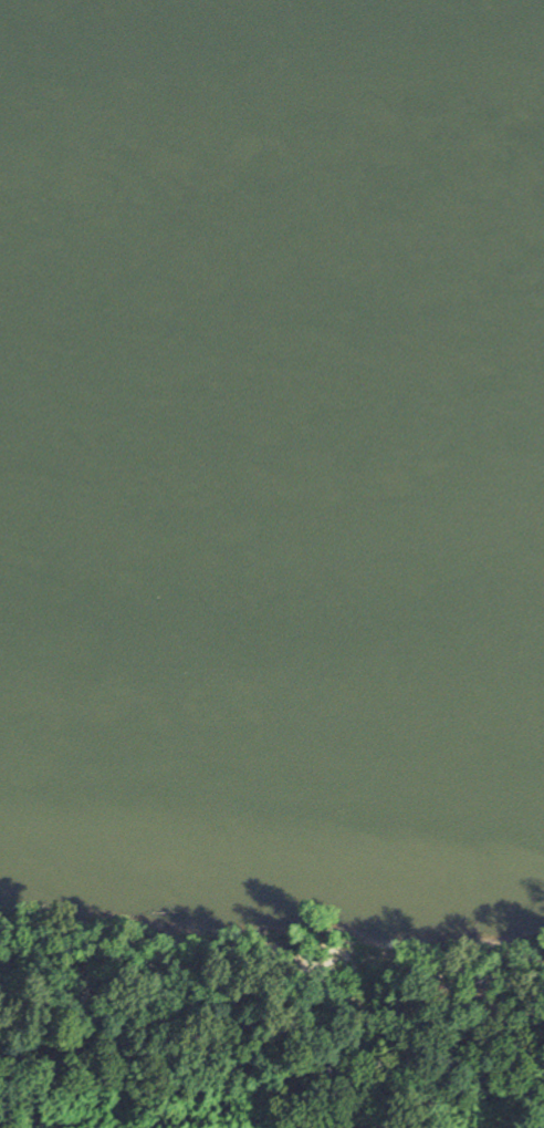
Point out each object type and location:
river: (272, 173)

